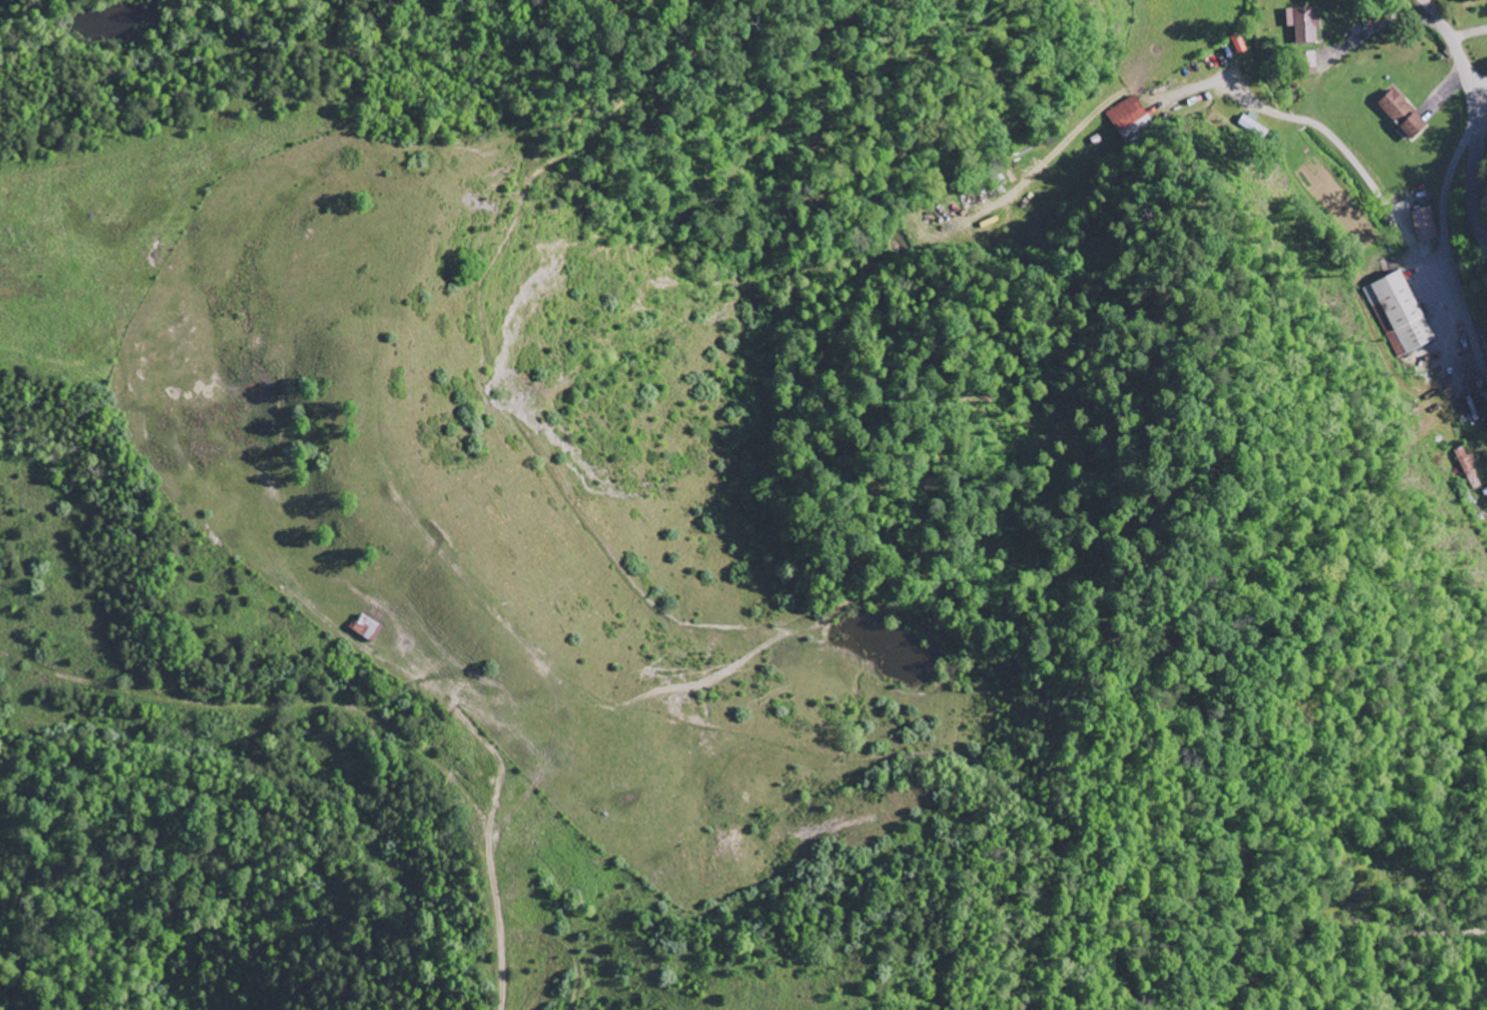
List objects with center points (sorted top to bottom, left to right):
building: (1306, 25)
building: (1240, 45)
road: (1479, 80)
road: (1476, 103)
building: (1128, 115)
building: (1405, 115)
building: (1426, 225)
road: (1446, 244)

